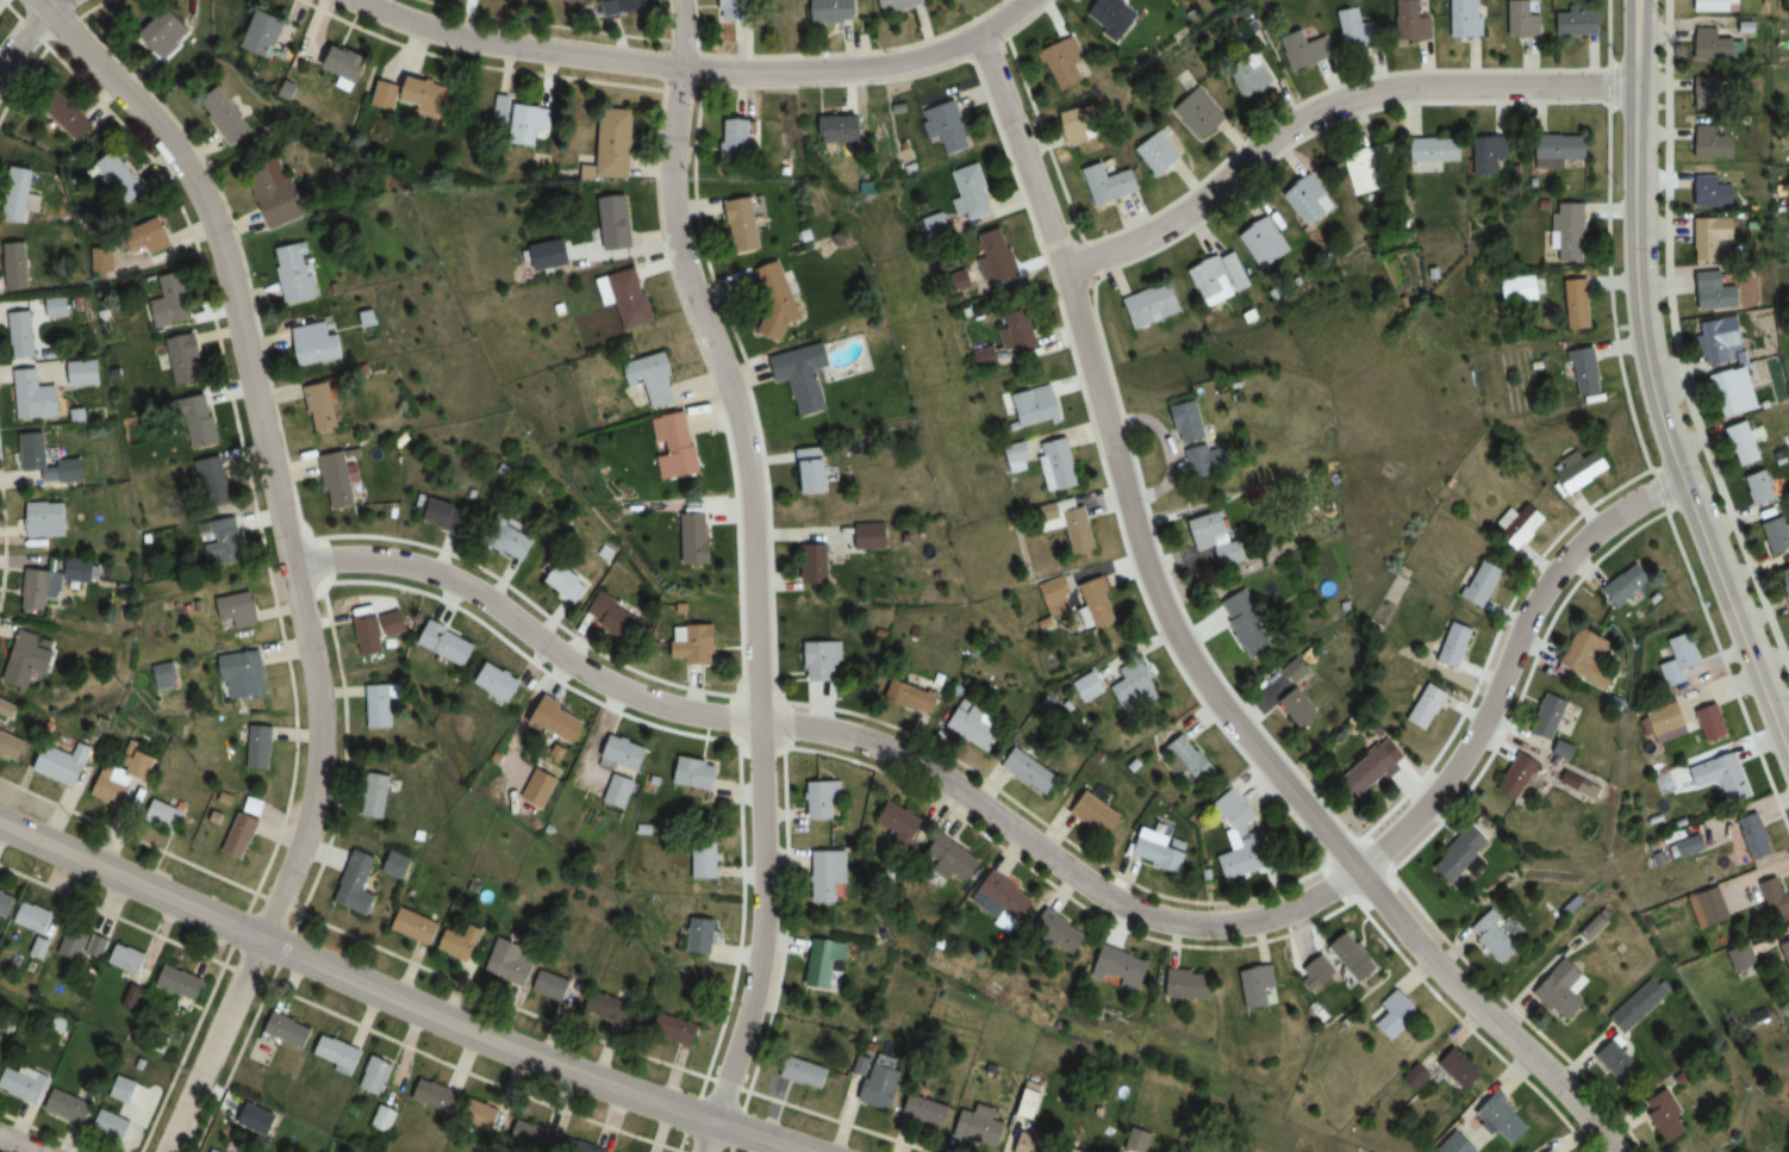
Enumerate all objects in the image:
building: (634, 5)
building: (902, 5)
building: (1713, 5)
road: (52, 6)
building: (740, 10)
building: (835, 10)
building: (1114, 17)
building: (1466, 18)
building: (1415, 19)
building: (1525, 19)
building: (1578, 19)
building: (1357, 29)
building: (167, 32)
building: (264, 33)
road: (23, 39)
building: (1714, 44)
road: (518, 49)
building: (1305, 50)
building: (1068, 62)
building: (347, 63)
road: (862, 68)
building: (1252, 75)
building: (1712, 94)
building: (386, 95)
building: (428, 98)
road: (1328, 107)
building: (224, 114)
building: (1198, 114)
building: (521, 118)
building: (70, 119)
building: (1083, 123)
building: (946, 126)
building: (843, 127)
building: (738, 137)
building: (615, 143)
building: (1714, 143)
building: (1560, 149)
building: (1440, 150)
building: (1159, 154)
building: (1490, 156)
building: (1366, 170)
building: (120, 178)
building: (1112, 183)
building: (276, 192)
building: (1715, 192)
building: (973, 193)
building: (18, 195)
building: (1308, 200)
building: (616, 222)
building: (746, 223)
building: (155, 235)
building: (1567, 235)
building: (1714, 236)
building: (1264, 242)
building: (996, 255)
building: (100, 259)
building: (15, 264)
building: (294, 272)
building: (1218, 276)
building: (1517, 288)
building: (1718, 292)
building: (629, 295)
building: (779, 299)
building: (172, 300)
building: (1578, 304)
building: (1153, 305)
building: (31, 322)
building: (1020, 331)
building: (1726, 341)
building: (317, 344)
building: (186, 359)
building: (1583, 372)
building: (86, 373)
building: (806, 375)
building: (656, 379)
road: (1654, 387)
building: (1737, 391)
building: (36, 396)
building: (1037, 406)
building: (324, 407)
building: (201, 423)
building: (1204, 442)
building: (1746, 443)
building: (679, 446)
building: (1059, 465)
building: (816, 469)
building: (1587, 469)
building: (73, 471)
building: (213, 481)
building: (338, 481)
building: (1763, 488)
building: (1260, 496)
building: (445, 513)
building: (46, 519)
building: (1523, 524)
building: (1779, 534)
building: (874, 536)
building: (700, 538)
building: (1220, 538)
building: (225, 542)
building: (513, 544)
road: (291, 555)
building: (819, 565)
building: (81, 568)
road: (753, 573)
building: (1787, 575)
building: (566, 583)
building: (1484, 584)
building: (1629, 585)
building: (43, 586)
building: (1055, 590)
building: (1099, 602)
building: (238, 612)
building: (618, 618)
building: (1248, 625)
road: (525, 634)
building: (369, 635)
building: (448, 643)
building: (697, 643)
building: (1458, 645)
road: (1190, 655)
building: (1591, 658)
building: (30, 659)
building: (1682, 659)
building: (824, 661)
building: (1298, 670)
building: (244, 674)
building: (164, 675)
building: (500, 681)
building: (1137, 684)
building: (1090, 686)
building: (912, 697)
building: (381, 703)
building: (1428, 705)
building: (1302, 708)
building: (1553, 716)
building: (557, 720)
building: (1672, 721)
building: (1713, 723)
building: (977, 726)
road: (719, 737)
building: (12, 746)
building: (260, 752)
building: (627, 752)
building: (1189, 760)
building: (66, 764)
building: (145, 765)
building: (1376, 770)
building: (1033, 771)
building: (699, 773)
building: (1523, 776)
building: (1725, 777)
building: (111, 787)
building: (619, 791)
building: (376, 795)
building: (824, 799)
building: (255, 805)
building: (1099, 814)
building: (164, 816)
building: (903, 822)
building: (242, 835)
building: (1241, 837)
building: (1757, 841)
building: (1695, 845)
building: (1162, 851)
building: (1467, 857)
building: (958, 859)
building: (397, 865)
building: (709, 865)
building: (829, 876)
building: (357, 884)
building: (1006, 897)
building: (1769, 897)
building: (6, 903)
road: (1295, 907)
building: (1703, 907)
building: (36, 917)
building: (1595, 924)
building: (414, 926)
building: (1065, 933)
building: (705, 935)
building: (1497, 936)
building: (81, 942)
building: (460, 942)
building: (40, 947)
road: (285, 947)
building: (1783, 955)
building: (1735, 957)
building: (1358, 958)
building: (129, 959)
building: (510, 960)
building: (824, 963)
building: (1127, 969)
building: (1321, 972)
road: (273, 974)
road: (353, 979)
building: (180, 982)
building: (1193, 984)
building: (553, 985)
building: (1261, 986)
building: (1565, 989)
building: (1632, 1007)
building: (609, 1008)
building: (1397, 1014)
building: (675, 1029)
building: (287, 1030)
road: (387, 1036)
building: (336, 1054)
building: (1608, 1059)
building: (0, 1064)
building: (1464, 1069)
building: (804, 1071)
building: (375, 1075)
building: (1420, 1076)
building: (23, 1085)
building: (884, 1085)
building: (126, 1089)
building: (437, 1096)
building: (1029, 1101)
building: (69, 1106)
building: (928, 1110)
building: (1657, 1114)
building: (482, 1116)
building: (385, 1117)
building: (1507, 1119)
building: (981, 1125)
building: (113, 1126)
building: (536, 1137)
road: (759, 1137)
building: (1034, 1140)
building: (1139, 1141)
building: (1459, 1144)
road: (13, 1146)
building: (593, 1147)
building: (211, 1151)

